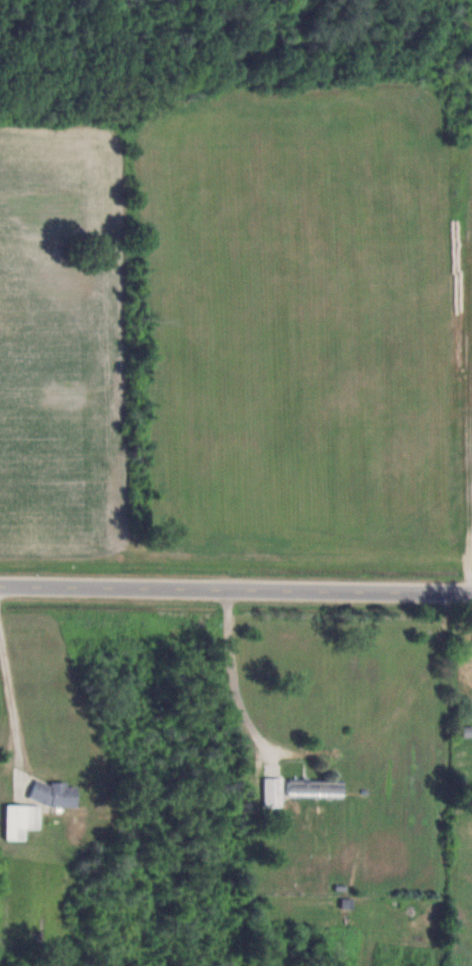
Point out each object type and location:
road: (236, 591)
road: (230, 675)
road: (10, 711)
building: (316, 788)
building: (274, 792)
building: (56, 794)
building: (22, 821)

